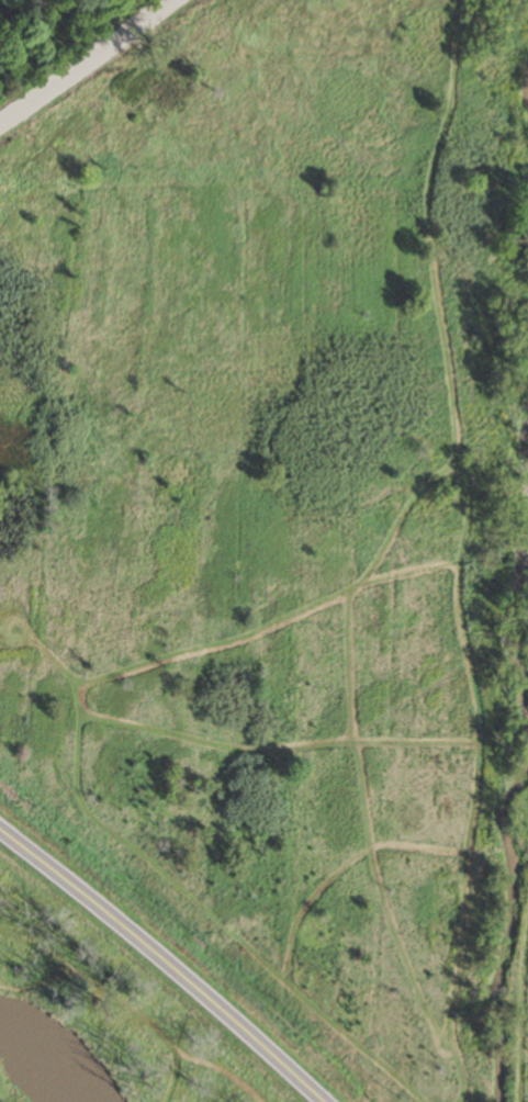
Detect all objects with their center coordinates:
road: (85, 63)
road: (164, 959)
river: (37, 1062)

